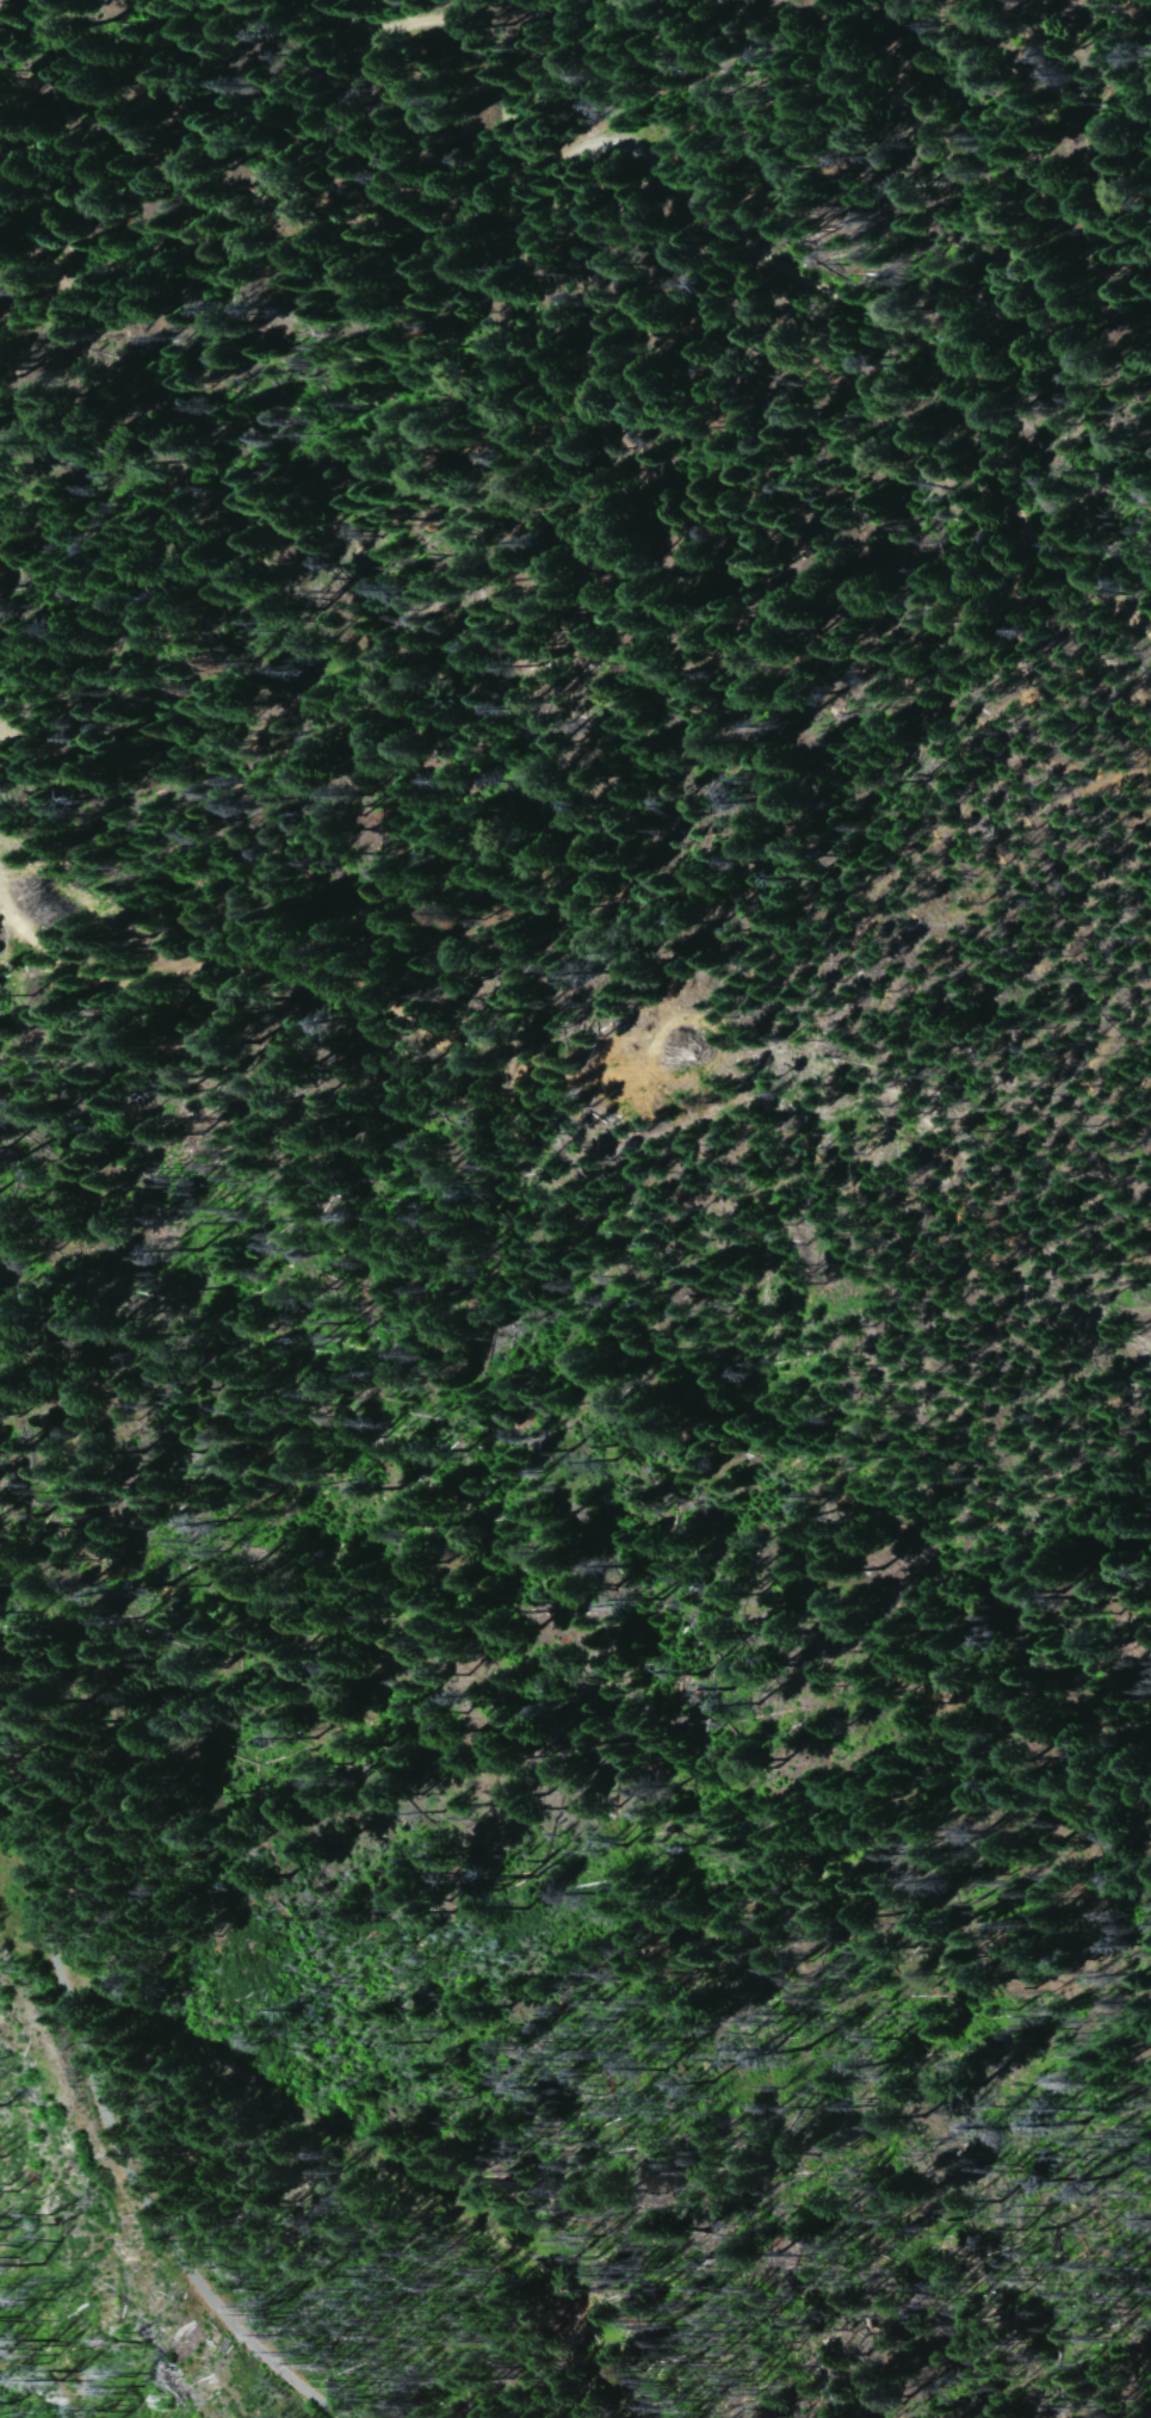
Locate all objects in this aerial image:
road: (749, 303)
road: (179, 998)
road: (131, 2079)

